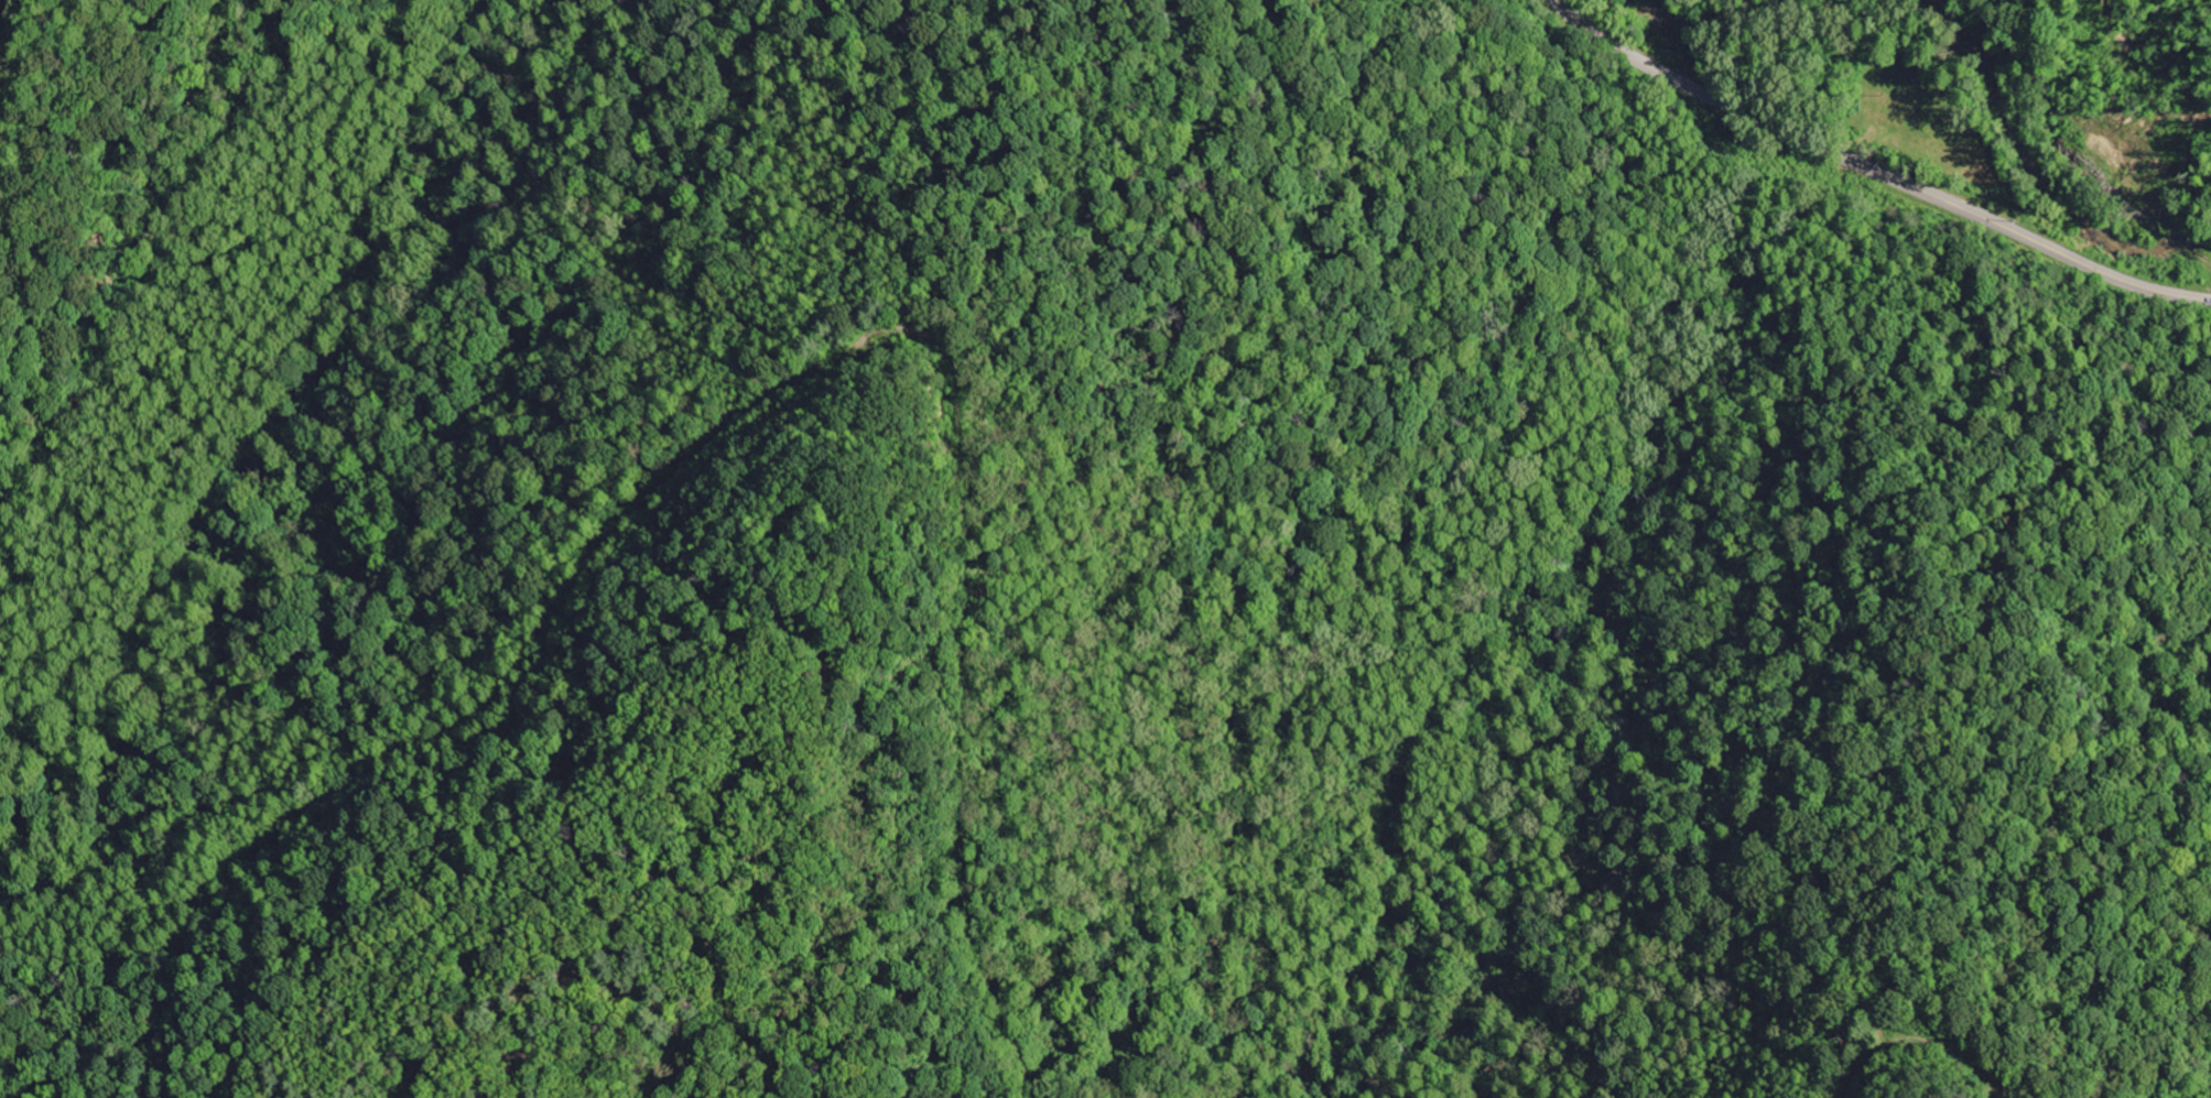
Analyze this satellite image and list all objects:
road: (1977, 171)

